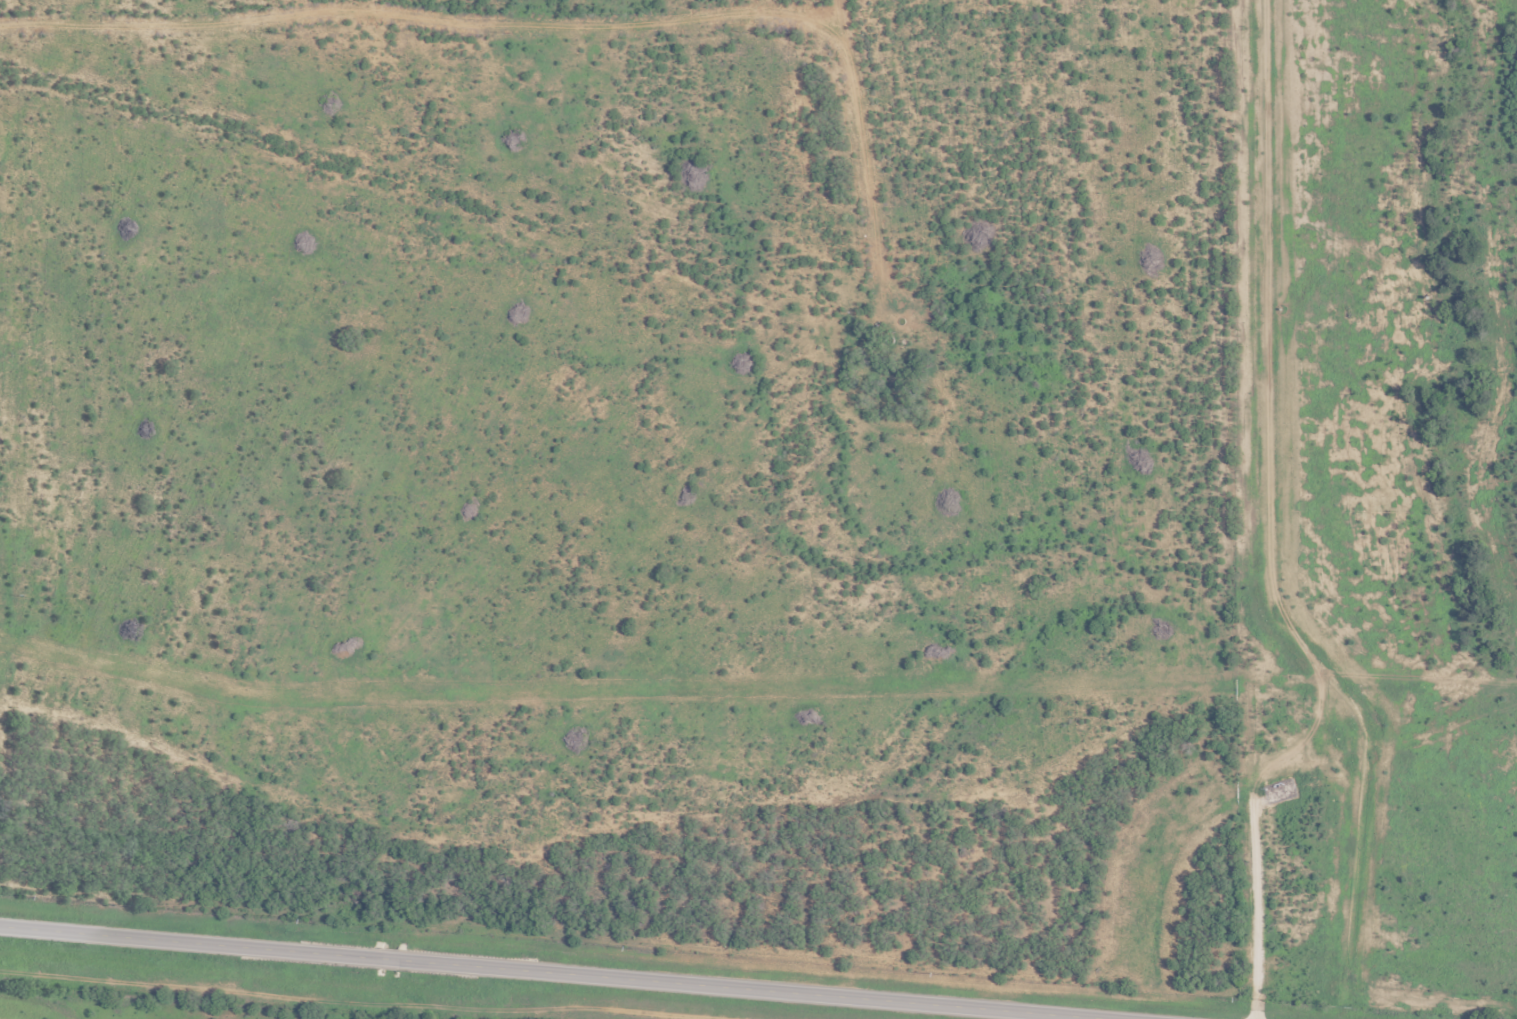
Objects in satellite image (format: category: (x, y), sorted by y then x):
road: (553, 972)

